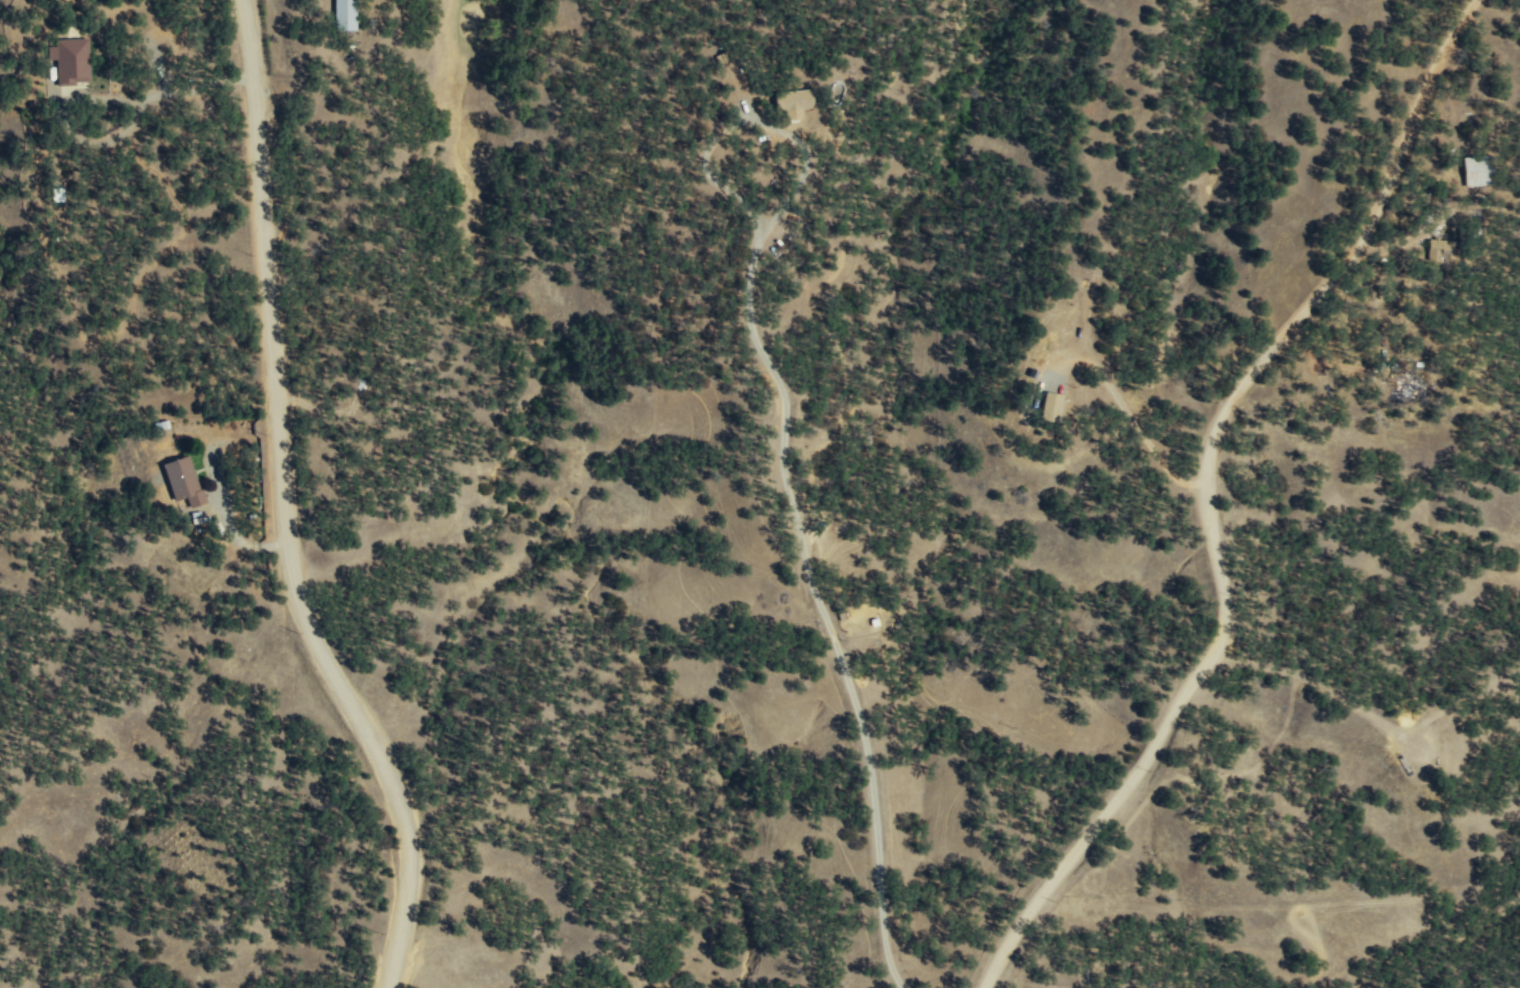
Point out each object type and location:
building: (345, 15)
building: (72, 61)
building: (796, 103)
building: (1478, 171)
building: (57, 194)
building: (1441, 249)
building: (1053, 404)
building: (183, 480)
road: (1214, 492)
road: (292, 506)

